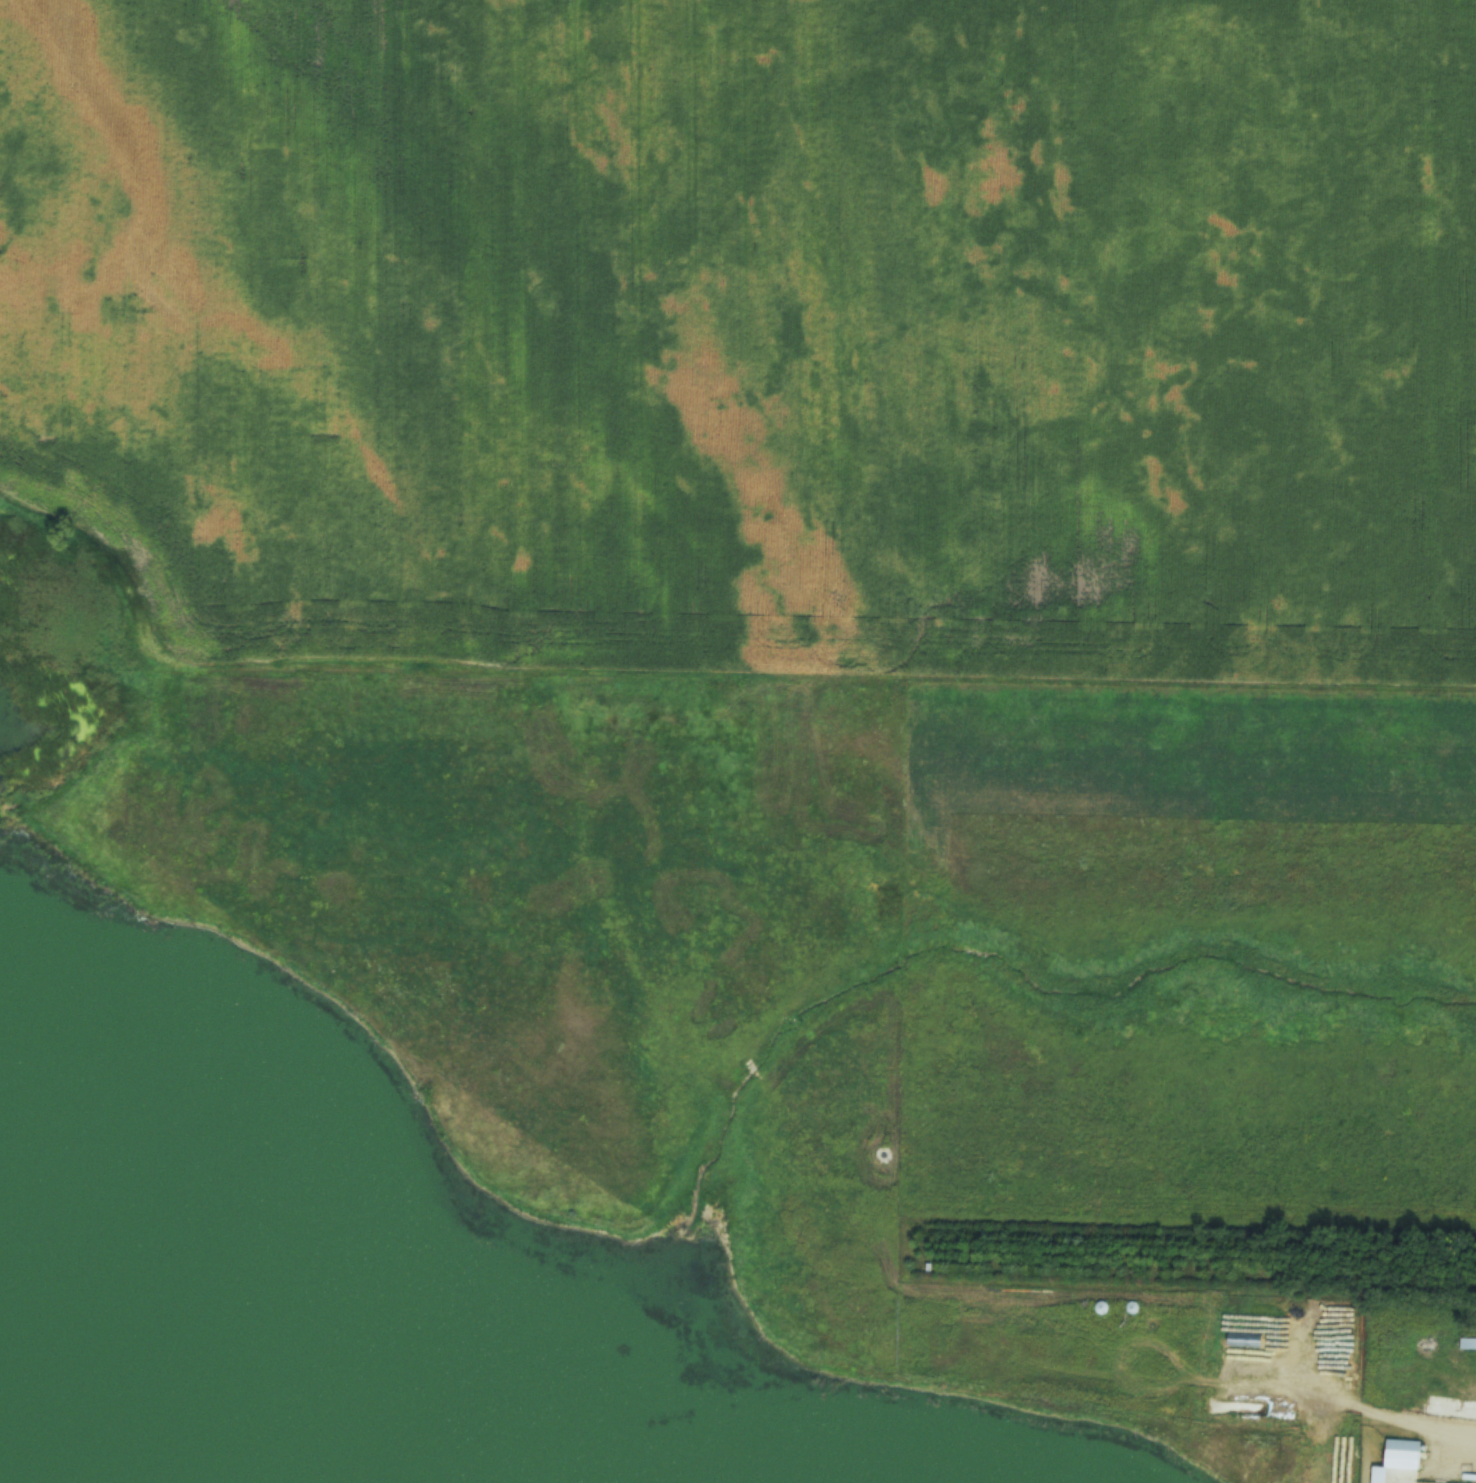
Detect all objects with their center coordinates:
building: (1403, 1455)

